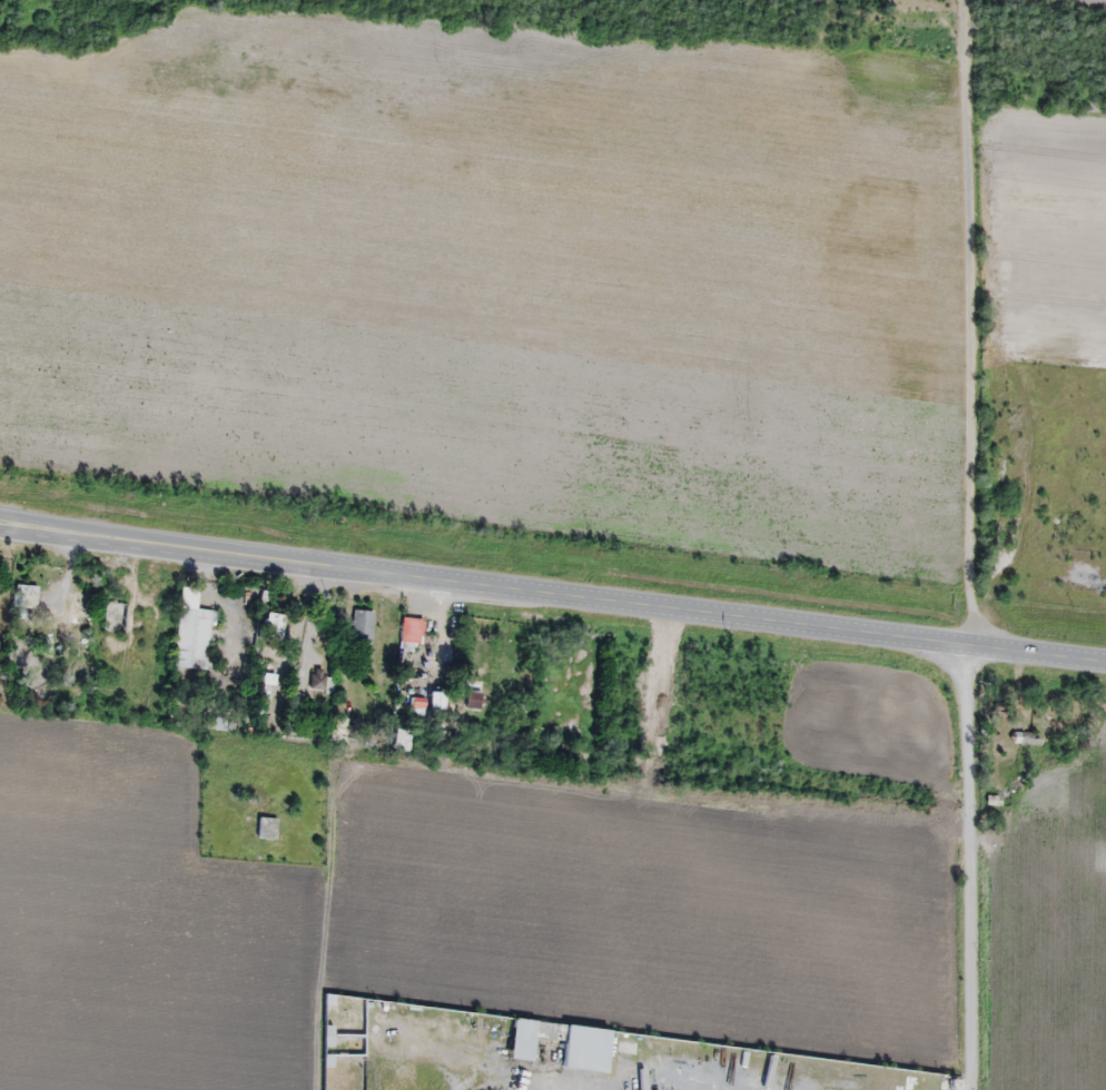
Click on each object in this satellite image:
road: (975, 545)
road: (1040, 656)

